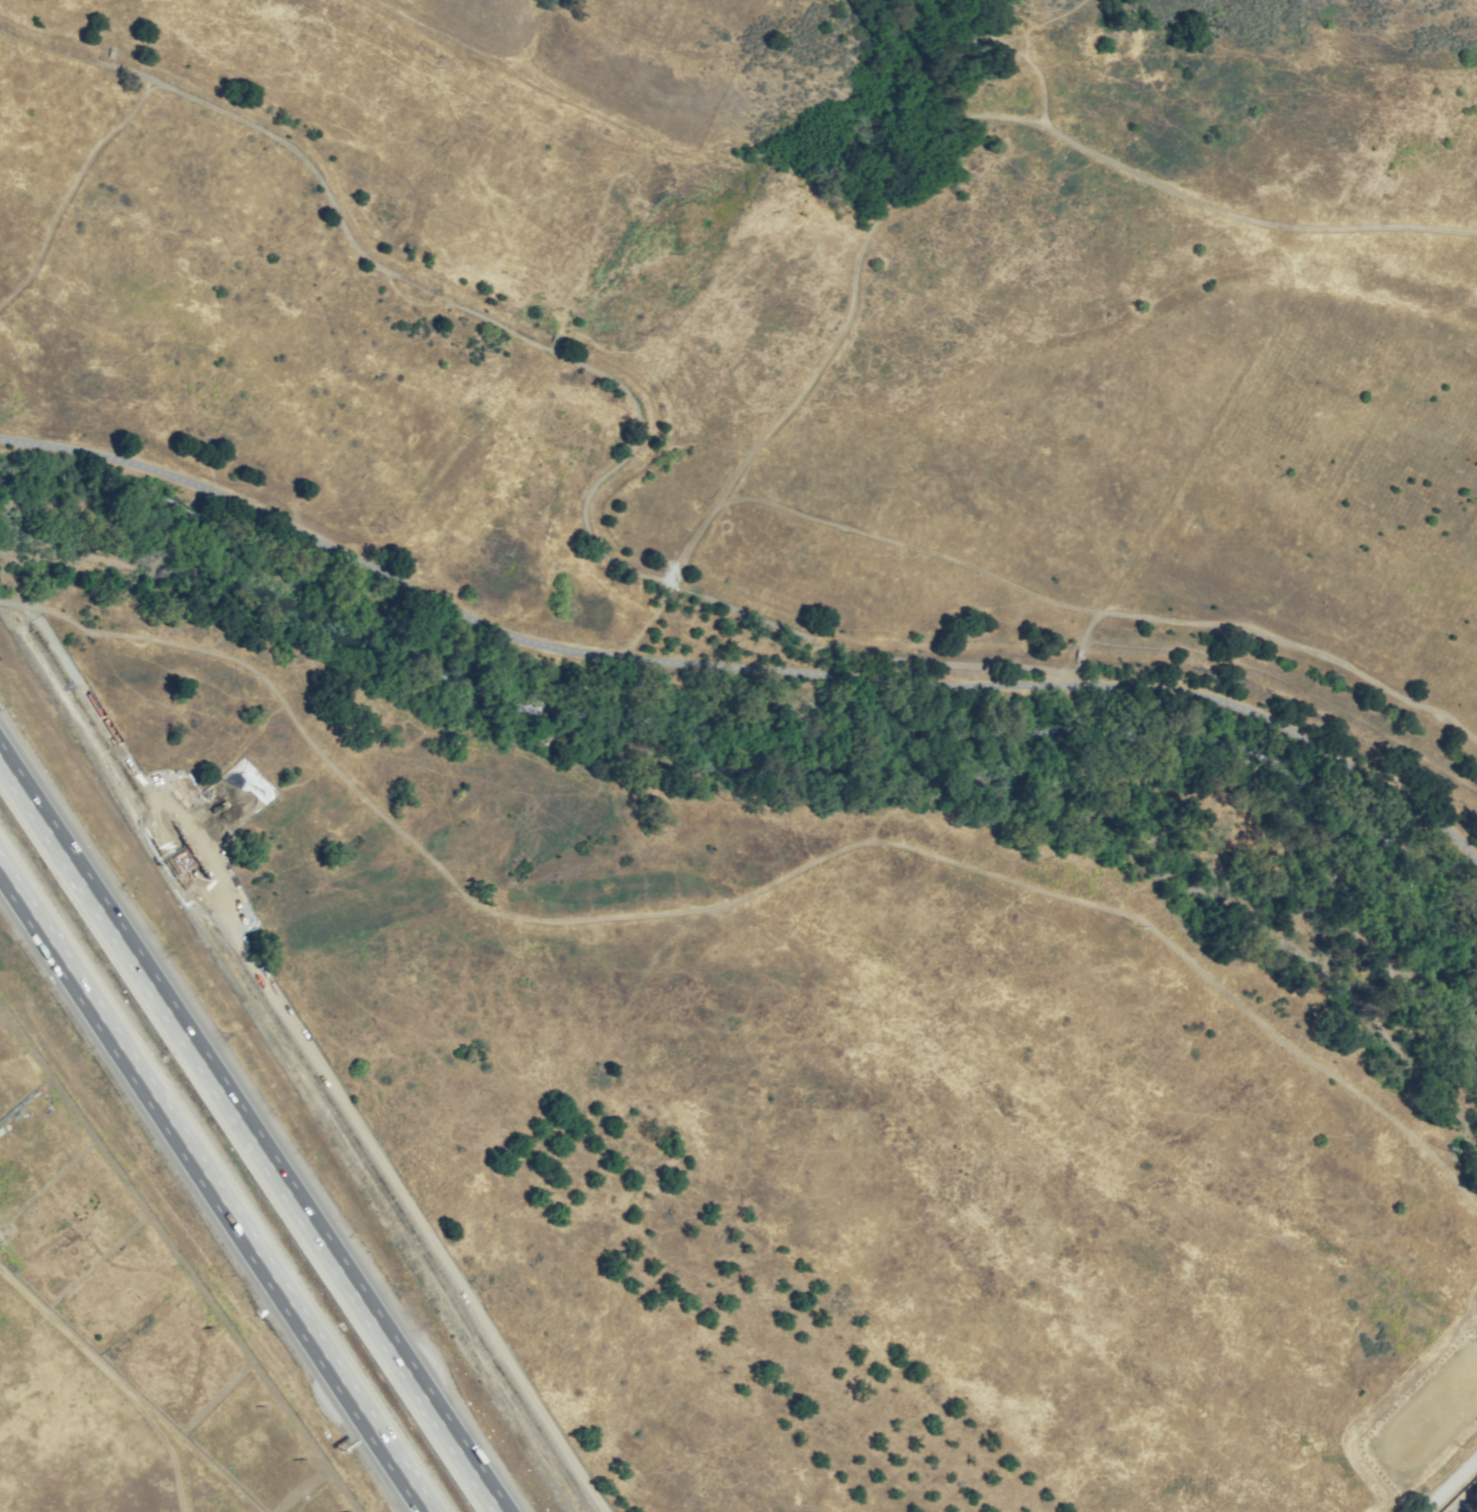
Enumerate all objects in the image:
road: (1012, 41)
road: (113, 54)
road: (913, 148)
road: (59, 170)
road: (556, 340)
road: (600, 381)
road: (450, 485)
road: (1113, 602)
road: (1097, 619)
road: (1300, 653)
road: (1083, 656)
road: (741, 667)
road: (745, 899)
road: (311, 1065)
road: (250, 1134)
road: (214, 1189)
parking lot: (1429, 1429)
road: (1450, 1485)

